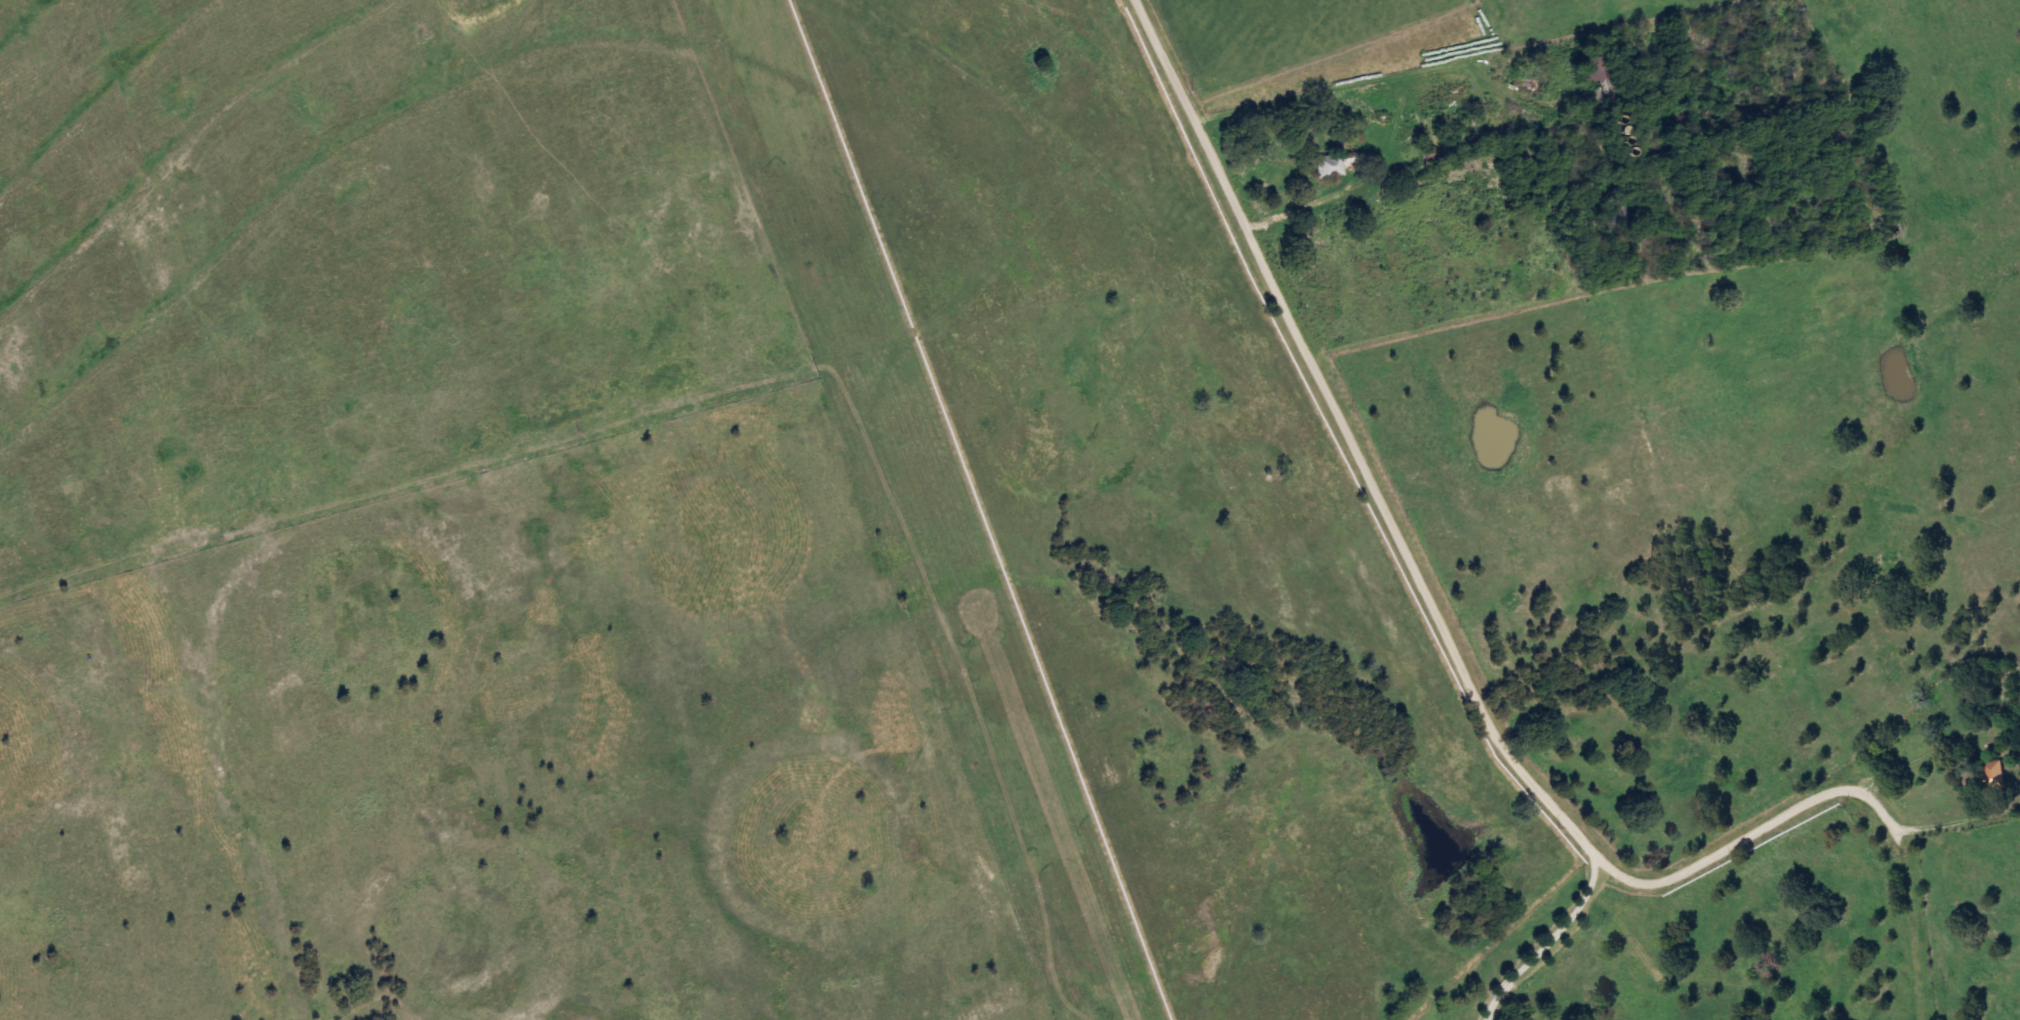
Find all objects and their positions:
road: (1467, 56)
road: (1410, 94)
building: (1418, 156)
building: (1333, 163)
road: (1426, 597)
road: (2005, 728)
building: (1993, 774)
road: (1962, 819)
road: (1909, 925)

